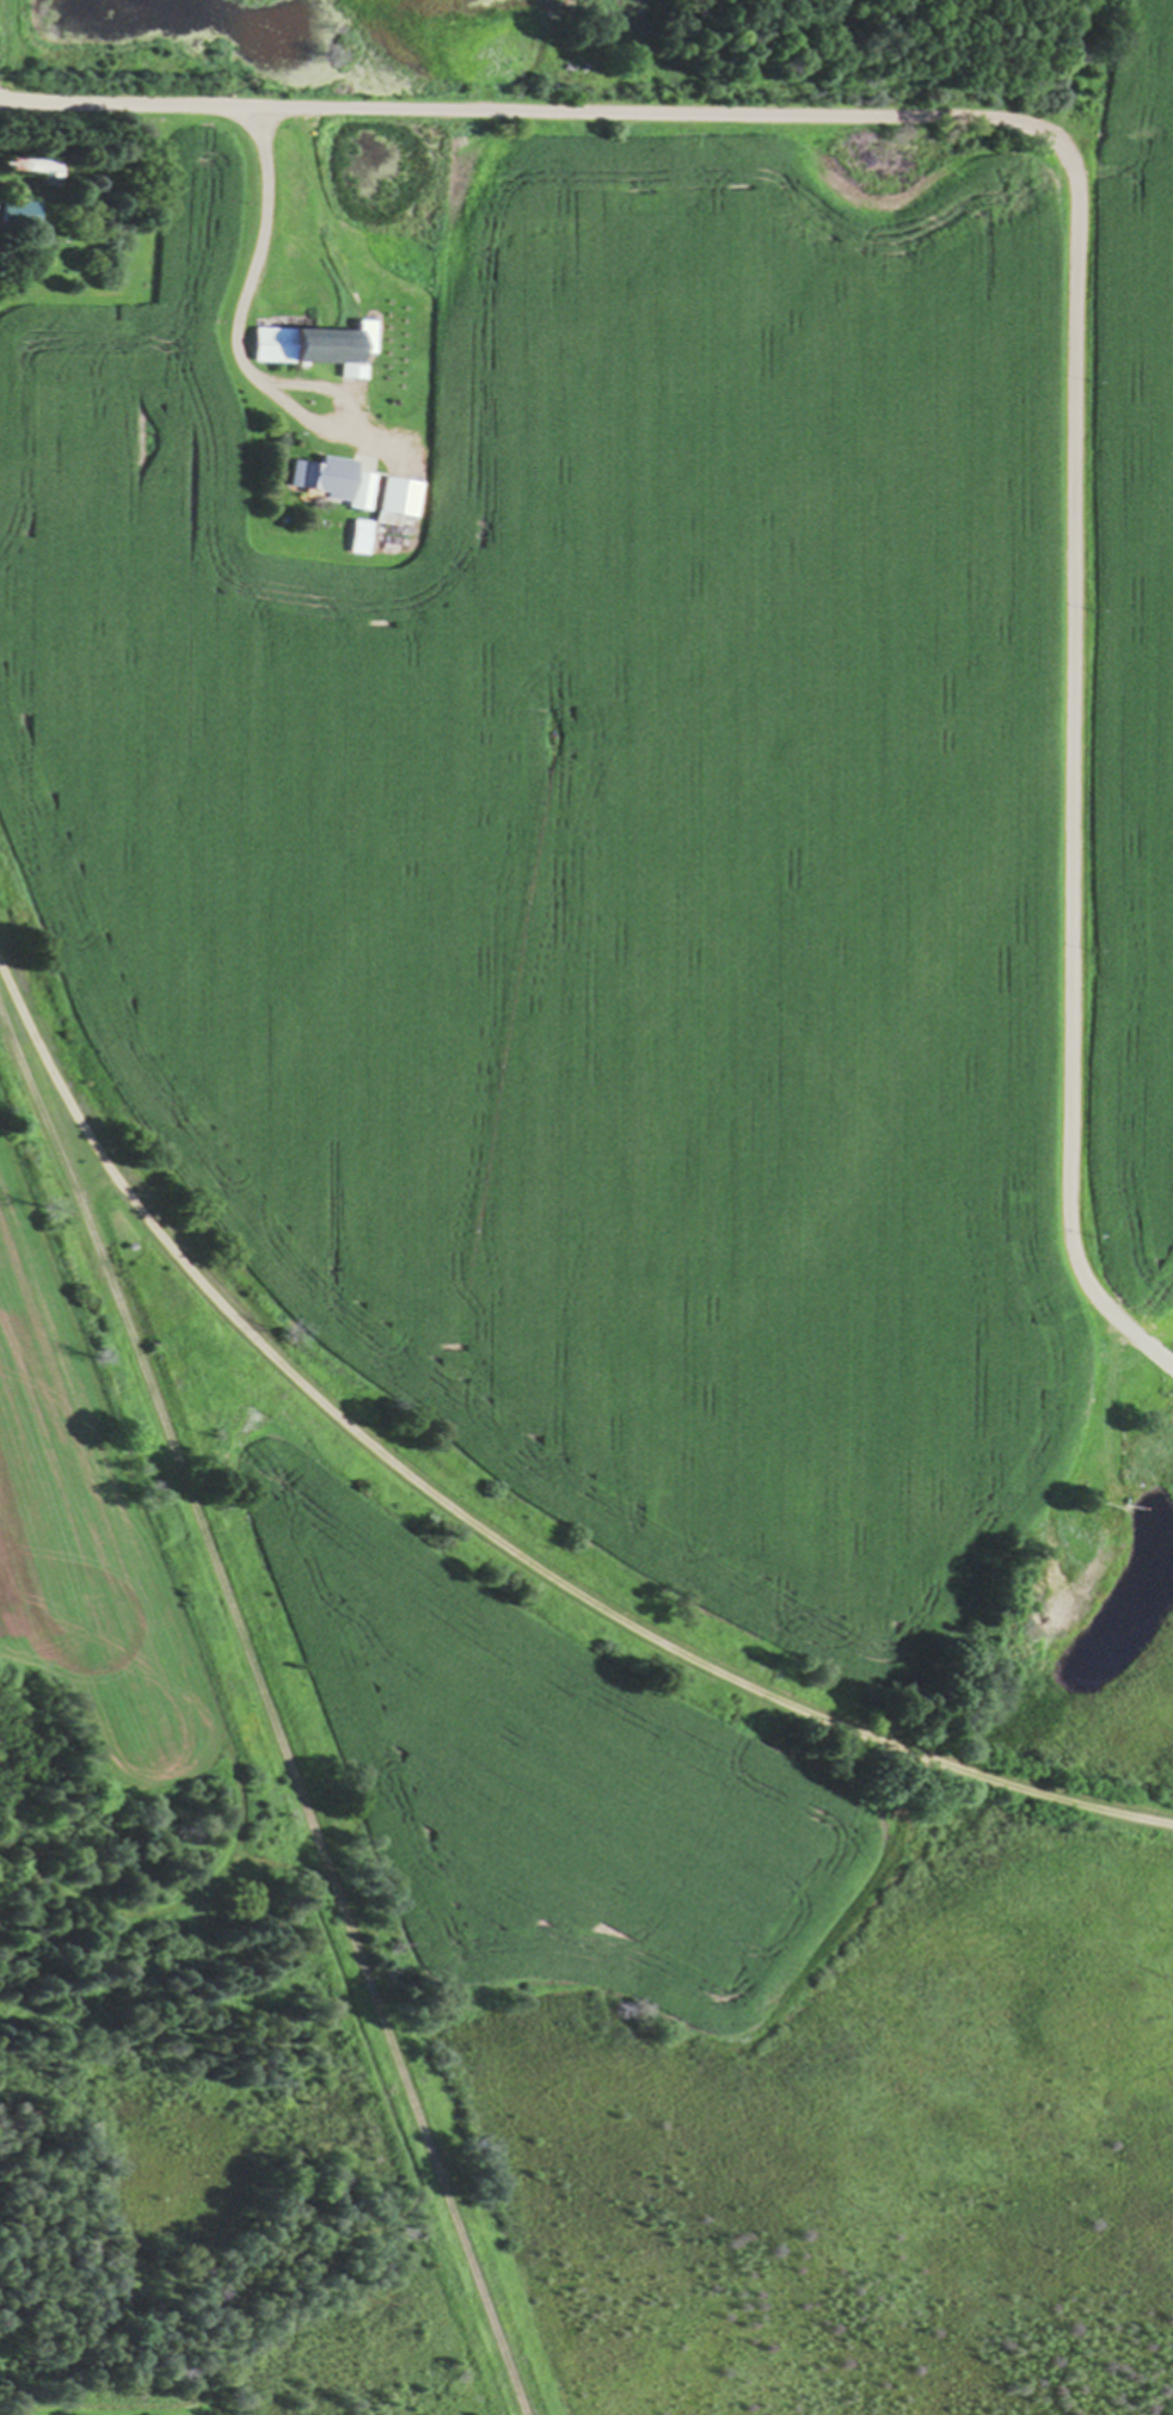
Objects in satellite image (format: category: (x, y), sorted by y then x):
building: (31, 170)
building: (17, 214)
road: (1077, 239)
building: (309, 348)
road: (240, 362)
building: (327, 483)
building: (388, 500)
road: (485, 1530)
road: (269, 1706)

